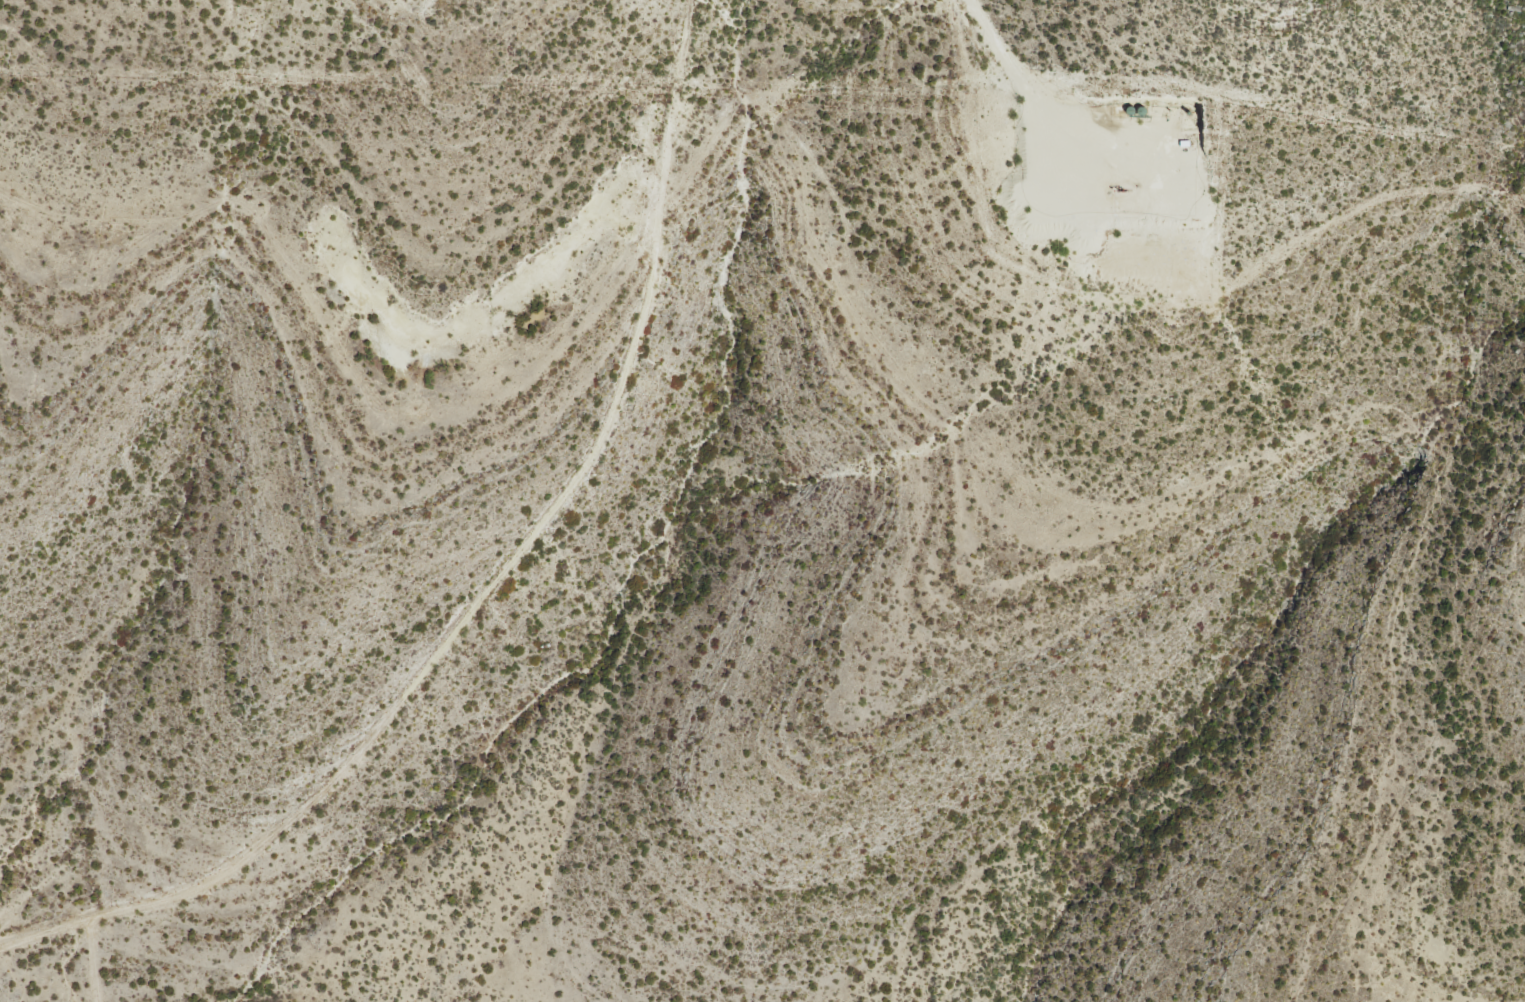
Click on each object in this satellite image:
road: (481, 584)

